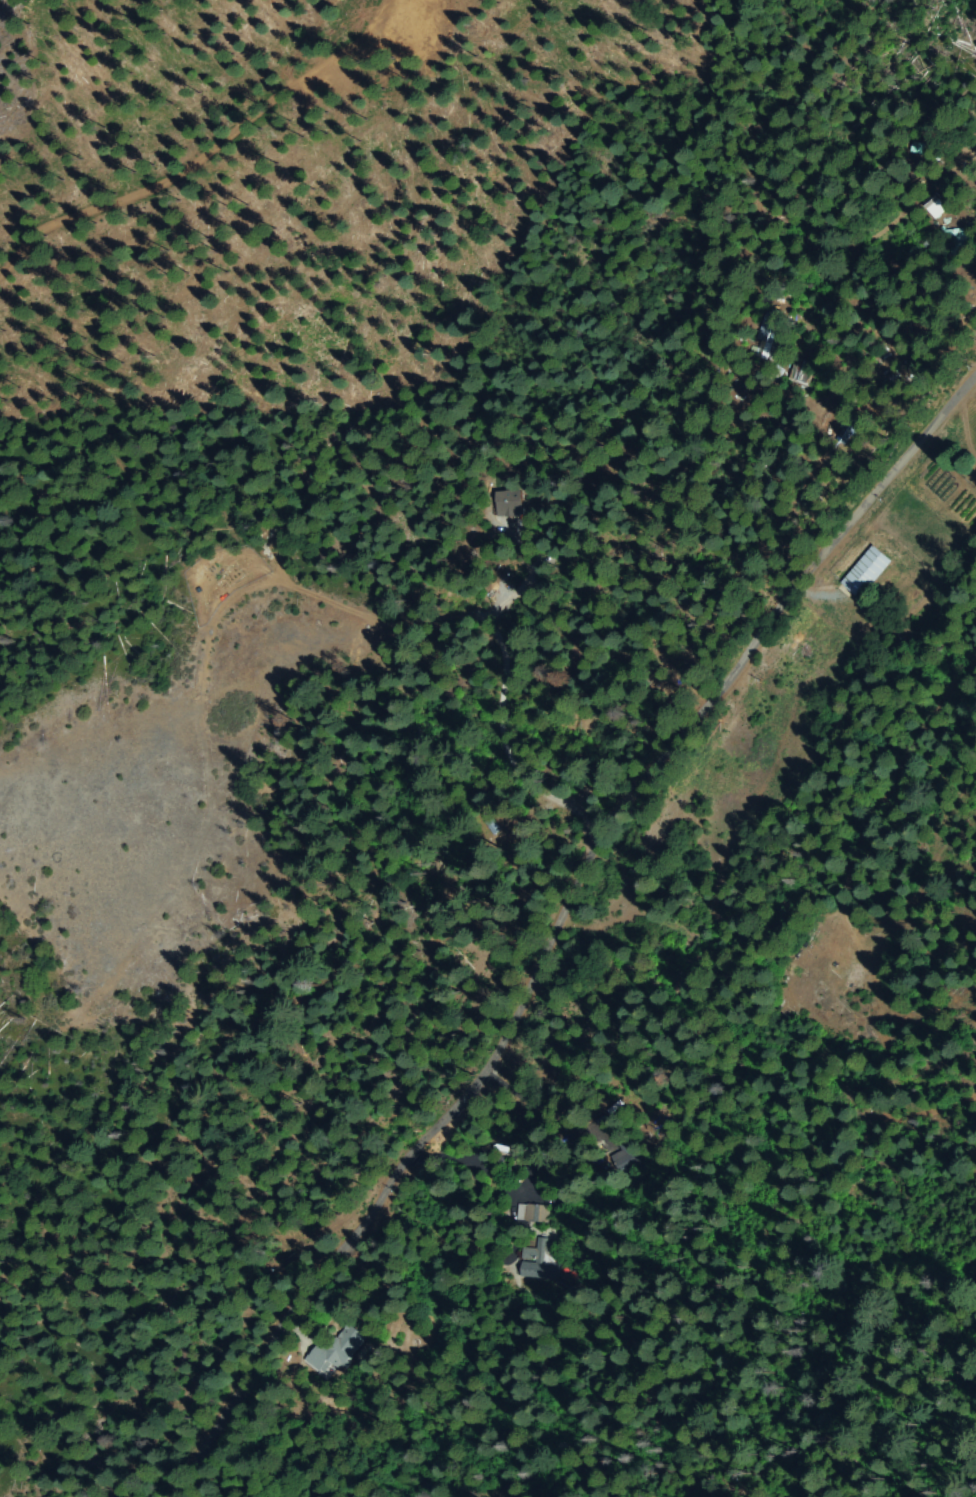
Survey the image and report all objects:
road: (202, 144)
building: (915, 148)
building: (932, 206)
building: (941, 216)
building: (959, 241)
building: (768, 335)
building: (804, 372)
building: (847, 432)
building: (508, 503)
building: (865, 575)
road: (565, 930)
building: (624, 1152)
building: (531, 1214)
building: (542, 1253)
building: (338, 1349)

